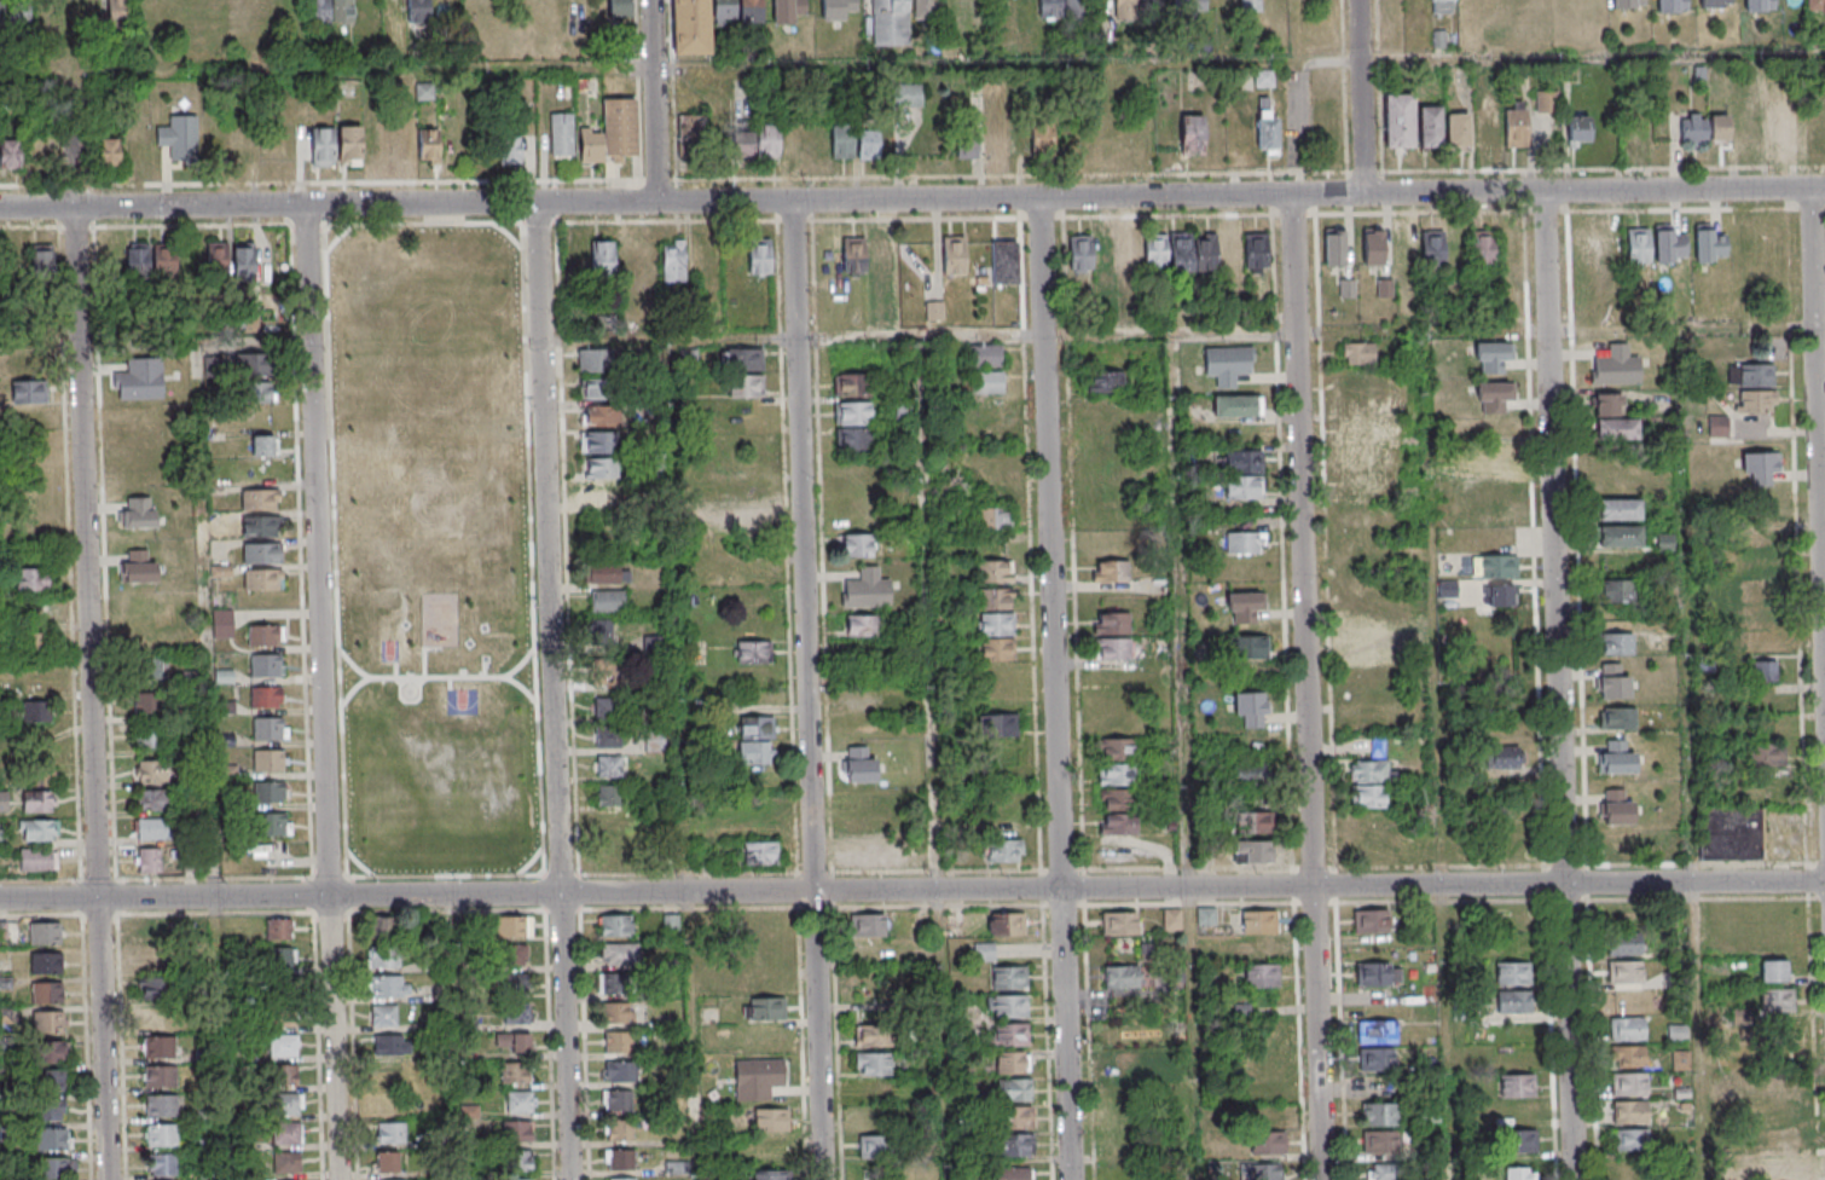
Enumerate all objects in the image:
building: (1627, 4)
building: (1711, 4)
building: (1189, 5)
building: (1248, 5)
building: (1759, 5)
building: (1815, 5)
building: (1442, 6)
building: (1672, 6)
building: (1056, 7)
building: (1135, 7)
building: (619, 8)
building: (836, 8)
building: (787, 10)
building: (923, 10)
building: (950, 10)
building: (116, 11)
building: (330, 11)
building: (418, 11)
building: (722, 11)
building: (2, 12)
building: (21, 12)
building: (748, 12)
building: (890, 22)
building: (690, 27)
road: (1594, 57)
road: (682, 66)
road: (1365, 97)
road: (659, 99)
building: (1546, 99)
building: (1778, 118)
building: (1398, 120)
building: (1749, 121)
building: (1430, 126)
building: (1487, 127)
building: (1516, 127)
building: (1719, 127)
building: (1458, 128)
building: (1577, 128)
building: (1692, 129)
building: (1267, 131)
building: (610, 133)
building: (561, 134)
building: (690, 134)
building: (1192, 134)
building: (179, 138)
building: (767, 140)
building: (841, 140)
building: (1043, 140)
building: (401, 143)
building: (992, 143)
building: (349, 144)
building: (742, 145)
building: (868, 145)
building: (967, 145)
building: (321, 146)
building: (429, 146)
building: (63, 147)
building: (509, 149)
building: (10, 152)
building: (108, 152)
road: (911, 178)
road: (71, 189)
road: (912, 198)
road: (323, 202)
road: (1697, 209)
road: (612, 220)
road: (305, 221)
road: (555, 221)
road: (337, 235)
road: (508, 235)
building: (1668, 244)
building: (1708, 244)
building: (1333, 245)
building: (1372, 245)
building: (1638, 245)
building: (1432, 248)
building: (1482, 248)
building: (1244, 250)
building: (1157, 251)
building: (1193, 251)
building: (1130, 253)
building: (867, 254)
building: (957, 254)
building: (764, 256)
building: (216, 258)
building: (606, 258)
road: (1815, 258)
building: (41, 259)
building: (0, 260)
building: (138, 260)
building: (163, 260)
road: (1545, 261)
building: (244, 262)
building: (677, 264)
building: (1006, 264)
road: (1292, 265)
building: (934, 311)
road: (1559, 331)
road: (916, 339)
road: (153, 342)
building: (1358, 352)
building: (984, 354)
building: (1490, 357)
building: (745, 358)
building: (593, 359)
building: (255, 364)
building: (1227, 364)
building: (1616, 365)
building: (1750, 375)
building: (139, 380)
building: (987, 381)
building: (1099, 381)
building: (748, 386)
building: (856, 386)
building: (591, 388)
building: (1354, 388)
building: (28, 392)
building: (256, 392)
building: (1493, 395)
building: (1754, 400)
building: (1235, 405)
building: (599, 415)
building: (857, 415)
building: (1613, 418)
building: (1717, 426)
building: (1365, 433)
road: (1821, 439)
building: (856, 440)
building: (598, 441)
building: (263, 444)
building: (1361, 459)
building: (1494, 459)
building: (1241, 462)
building: (1761, 465)
building: (601, 468)
building: (1360, 487)
building: (1244, 488)
building: (602, 492)
building: (260, 498)
building: (1618, 509)
building: (138, 511)
building: (1497, 514)
building: (995, 519)
building: (747, 520)
building: (260, 525)
building: (1618, 536)
building: (856, 544)
building: (1247, 544)
park: (438, 550)
building: (262, 553)
building: (1494, 566)
building: (138, 567)
building: (997, 572)
building: (1111, 572)
building: (606, 573)
building: (262, 579)
building: (33, 580)
building: (1447, 588)
building: (1757, 588)
building: (865, 589)
building: (1617, 590)
building: (1497, 595)
building: (998, 600)
building: (608, 601)
building: (1242, 607)
road: (1558, 607)
road: (1801, 613)
building: (1760, 615)
building: (221, 623)
building: (859, 625)
building: (1001, 625)
building: (1114, 625)
building: (604, 631)
building: (265, 635)
building: (144, 638)
building: (1760, 642)
building: (35, 643)
building: (1616, 643)
road: (1036, 647)
building: (1248, 647)
building: (1366, 647)
park: (388, 649)
building: (753, 650)
building: (1001, 650)
building: (1116, 650)
road: (423, 653)
building: (267, 665)
road: (482, 665)
building: (147, 667)
road: (394, 667)
building: (1497, 669)
building: (607, 670)
building: (1763, 670)
road: (438, 676)
building: (1612, 681)
road: (448, 682)
road: (522, 687)
road: (352, 688)
road: (1059, 688)
road: (810, 689)
road: (555, 690)
road: (320, 692)
road: (92, 693)
building: (266, 695)
road: (1583, 695)
building: (147, 700)
road: (409, 700)
park: (460, 700)
building: (861, 700)
building: (607, 706)
building: (1248, 707)
building: (37, 711)
building: (1616, 717)
building: (1366, 721)
building: (1001, 725)
building: (757, 727)
building: (270, 728)
building: (147, 736)
building: (608, 736)
building: (1112, 750)
building: (754, 752)
building: (1501, 752)
road: (1691, 754)
building: (1765, 754)
road: (1188, 757)
road: (1310, 757)
road: (1438, 757)
building: (1615, 757)
building: (268, 759)
road: (933, 759)
road: (214, 760)
road: (685, 760)
building: (859, 764)
building: (608, 765)
building: (151, 770)
building: (40, 771)
building: (1116, 774)
building: (1252, 774)
building: (1368, 782)
building: (271, 791)
building: (610, 794)
building: (152, 799)
building: (1117, 799)
building: (4, 800)
building: (39, 800)
building: (1616, 806)
building: (1251, 821)
building: (1117, 822)
building: (271, 823)
building: (39, 829)
building: (153, 829)
building: (1, 832)
building: (1731, 833)
building: (1616, 844)
building: (1003, 849)
building: (1251, 851)
building: (874, 852)
building: (760, 854)
road: (1085, 854)
building: (37, 858)
building: (149, 861)
road: (529, 861)
road: (358, 862)
road: (540, 874)
road: (793, 874)
road: (173, 879)
road: (1697, 881)
road: (784, 891)
building: (1170, 918)
building: (1371, 920)
building: (1007, 922)
building: (1119, 922)
building: (671, 924)
building: (867, 925)
building: (382, 926)
building: (514, 926)
building: (619, 927)
building: (155, 930)
building: (280, 930)
building: (1258, 933)
building: (47, 935)
building: (1624, 943)
building: (511, 955)
building: (622, 955)
building: (383, 956)
building: (283, 959)
building: (158, 960)
building: (50, 966)
building: (1773, 970)
building: (1624, 971)
building: (1513, 972)
building: (1378, 973)
building: (1257, 974)
building: (1120, 976)
building: (1012, 978)
building: (610, 983)
building: (517, 984)
building: (389, 985)
building: (160, 989)
building: (282, 989)
building: (51, 995)
building: (1777, 999)
building: (1513, 1002)
building: (767, 1008)
building: (1013, 1008)
building: (516, 1012)
building: (618, 1012)
building: (383, 1014)
building: (161, 1018)
building: (286, 1018)
building: (51, 1024)
building: (1629, 1030)
building: (1377, 1031)
road: (1572, 1031)
road: (1815, 1031)
building: (1014, 1035)
road: (457, 1037)
building: (876, 1037)
building: (618, 1041)
building: (512, 1042)
building: (392, 1043)
road: (1048, 1043)
building: (286, 1047)
building: (161, 1048)
building: (52, 1053)
building: (1375, 1058)
building: (1630, 1058)
building: (1124, 1062)
building: (1015, 1064)
building: (875, 1065)
building: (515, 1074)
building: (625, 1074)
building: (162, 1077)
building: (288, 1077)
building: (758, 1078)
building: (52, 1083)
building: (1517, 1084)
building: (1632, 1086)
building: (1016, 1092)
building: (621, 1101)
building: (518, 1103)
building: (289, 1105)
building: (163, 1107)
building: (50, 1111)
building: (1633, 1114)
building: (1381, 1116)
building: (770, 1120)
building: (1018, 1120)
building: (518, 1132)
building: (622, 1132)
building: (290, 1134)
building: (394, 1134)
building: (164, 1136)
building: (1784, 1138)
building: (1520, 1140)
building: (54, 1141)
building: (1634, 1141)
building: (1267, 1143)
building: (1384, 1144)
building: (1019, 1146)
building: (881, 1149)
building: (387, 1161)
building: (521, 1161)
building: (624, 1161)
building: (290, 1164)
building: (167, 1165)
building: (1781, 1167)
building: (56, 1169)
building: (1264, 1170)
building: (1381, 1172)
building: (1519, 1173)
building: (1015, 1174)
building: (767, 1175)
building: (621, 1178)
building: (390, 1179)
building: (522, 1179)

